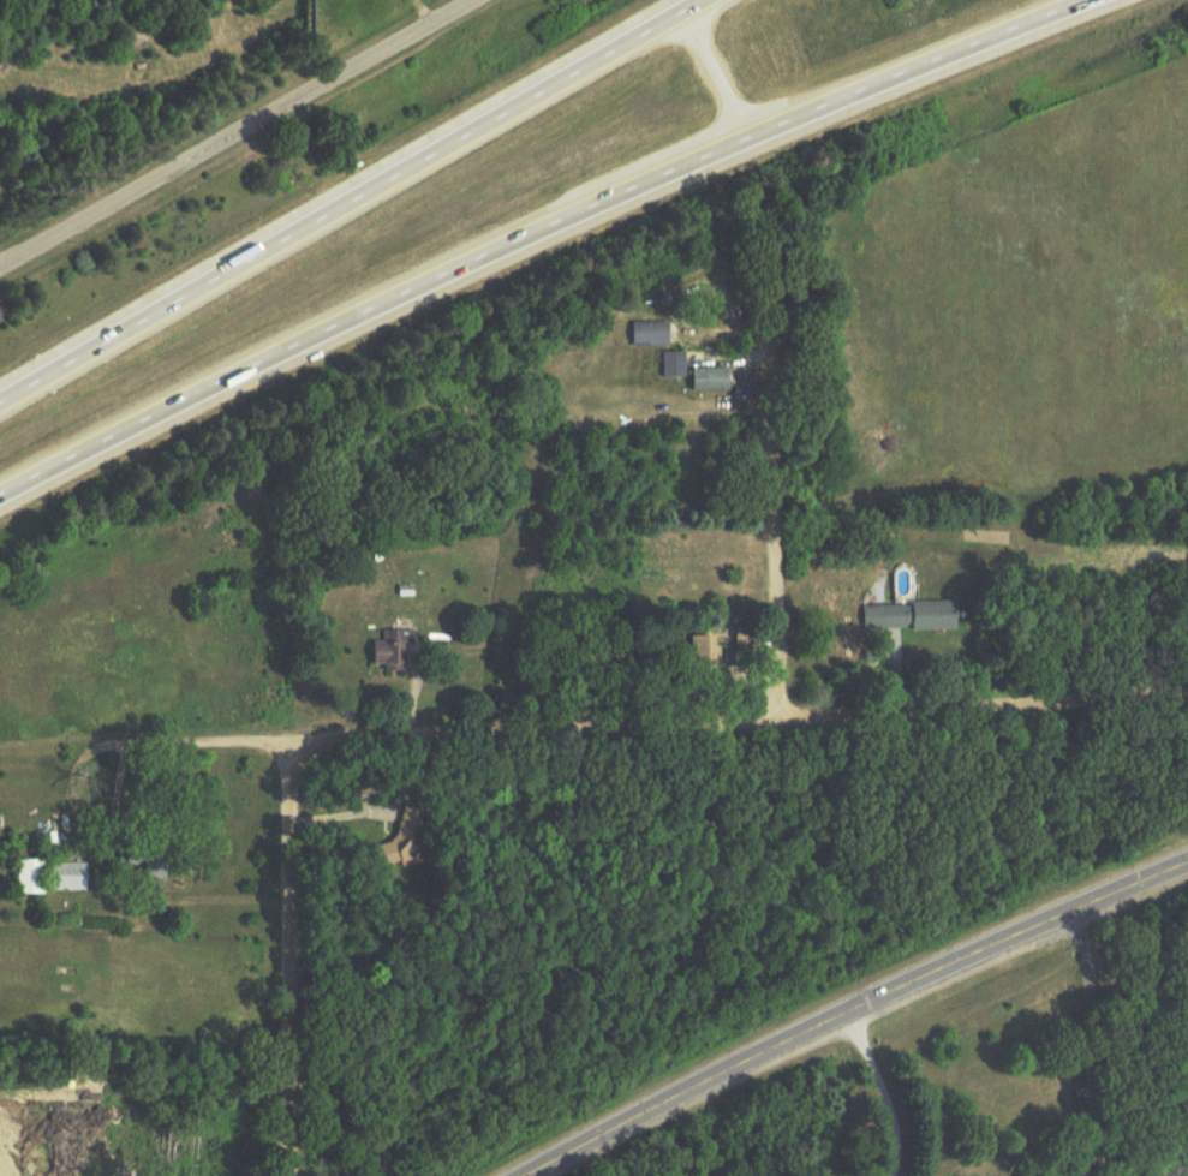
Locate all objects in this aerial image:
road: (706, 74)
road: (233, 133)
road: (345, 198)
road: (533, 233)
building: (652, 334)
building: (675, 365)
building: (714, 380)
road: (776, 501)
building: (913, 616)
building: (394, 649)
building: (708, 653)
road: (596, 727)
road: (348, 814)
building: (411, 836)
building: (155, 862)
building: (34, 877)
building: (71, 877)
road: (287, 957)
road: (850, 1008)
road: (1086, 1034)
road: (882, 1091)
road: (1037, 1166)
road: (1069, 1166)

